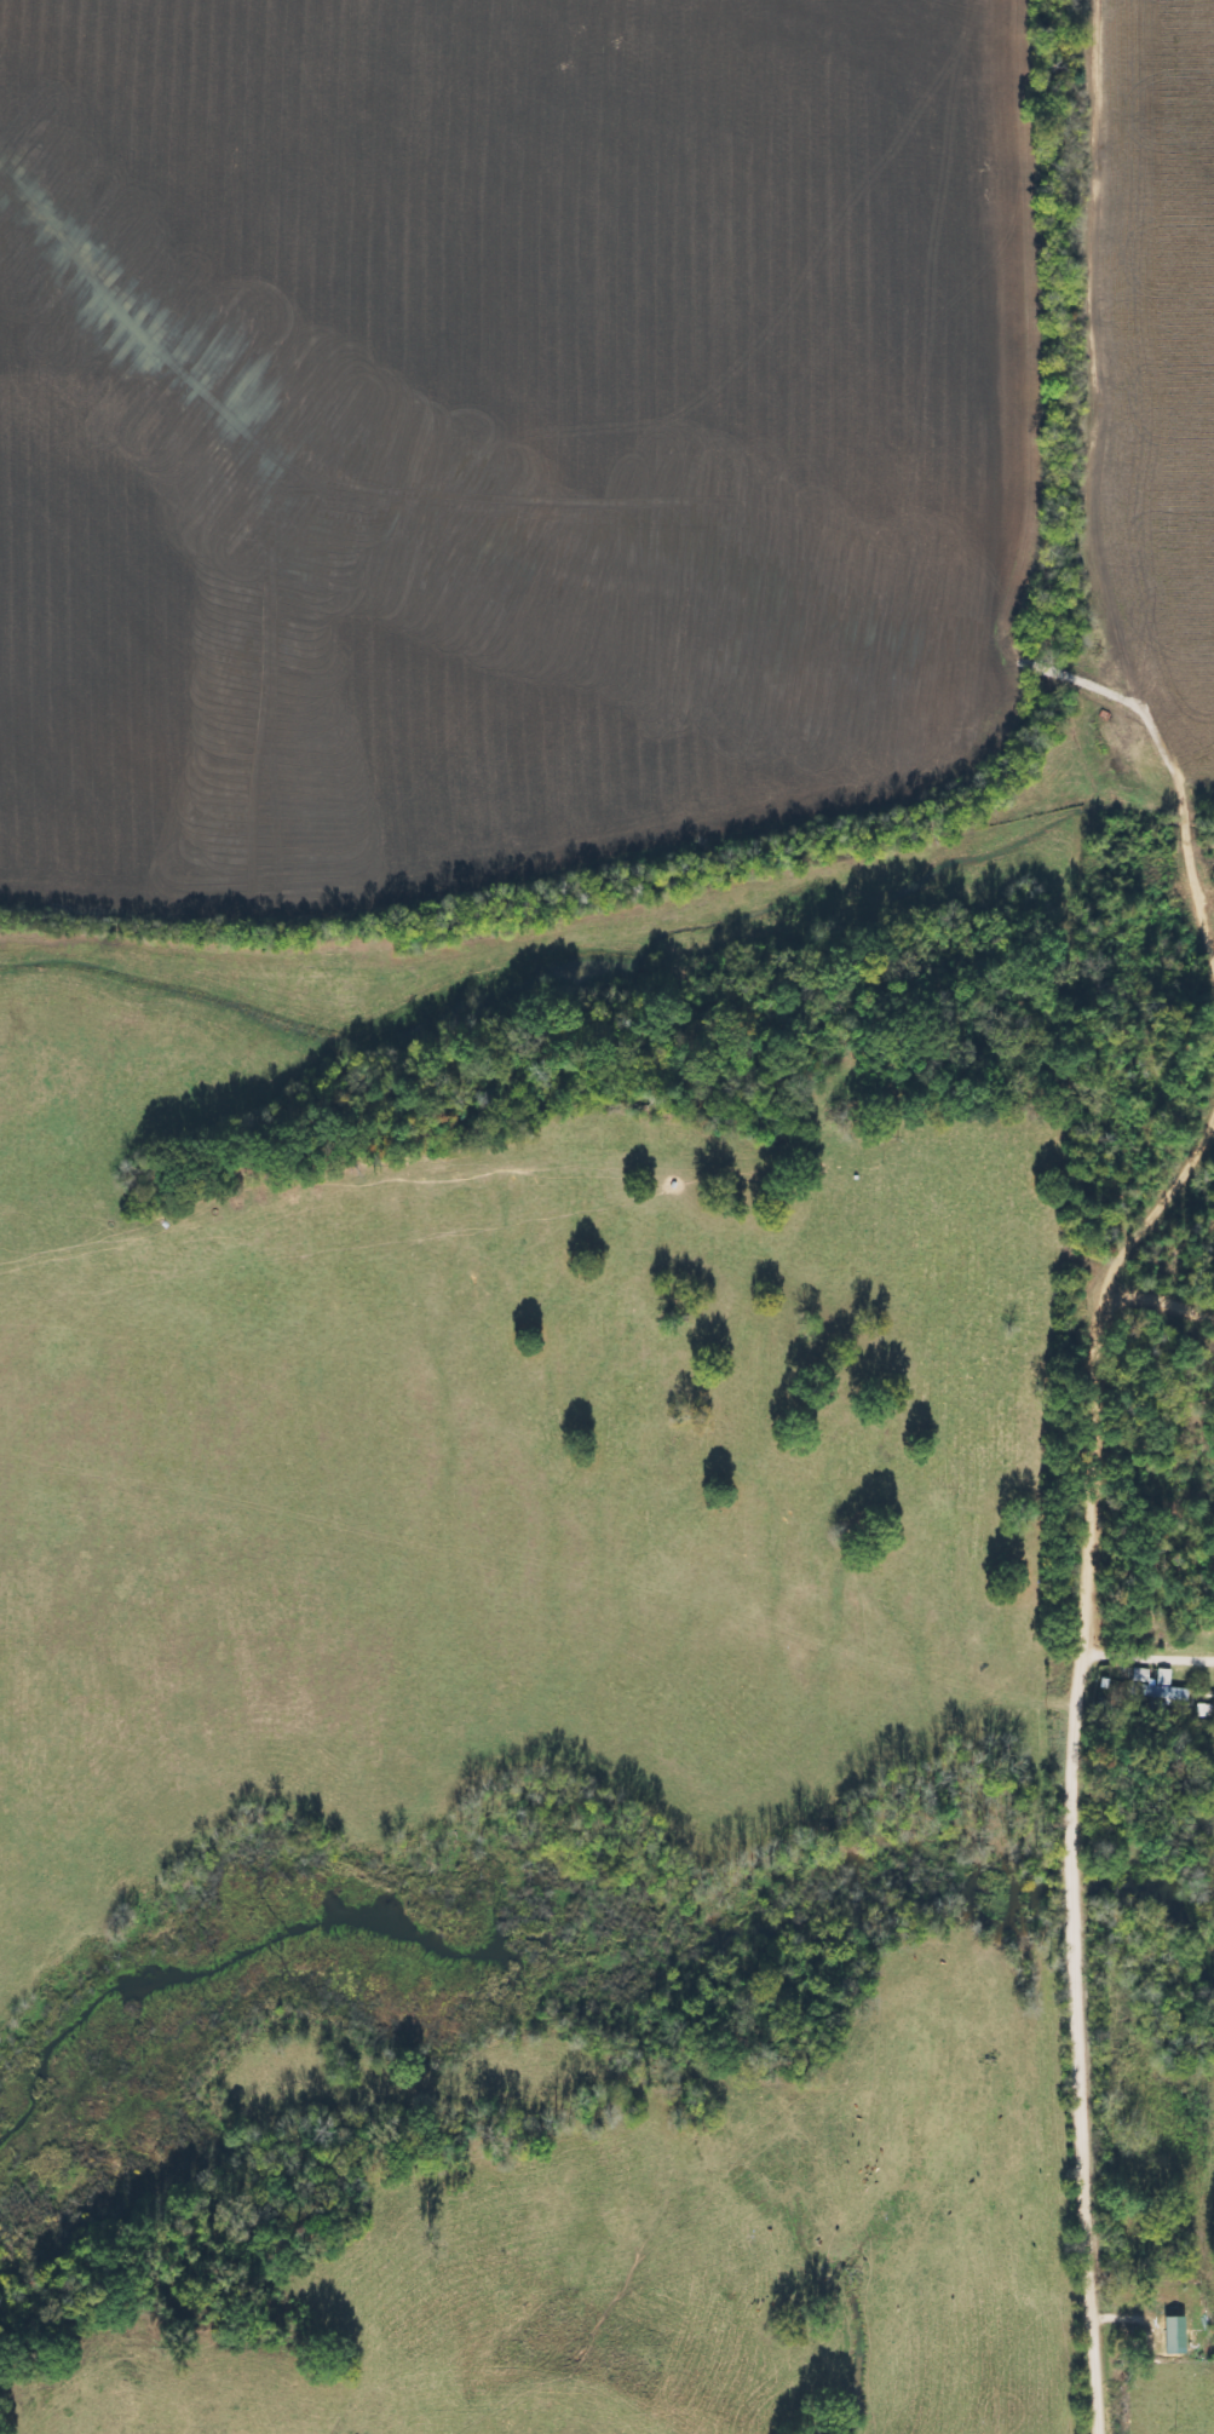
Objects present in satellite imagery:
road: (1203, 59)
road: (1132, 729)
road: (1184, 1052)
road: (1052, 1155)
road: (1152, 1650)
building: (1157, 1686)
road: (1078, 1858)
building: (1175, 2331)

